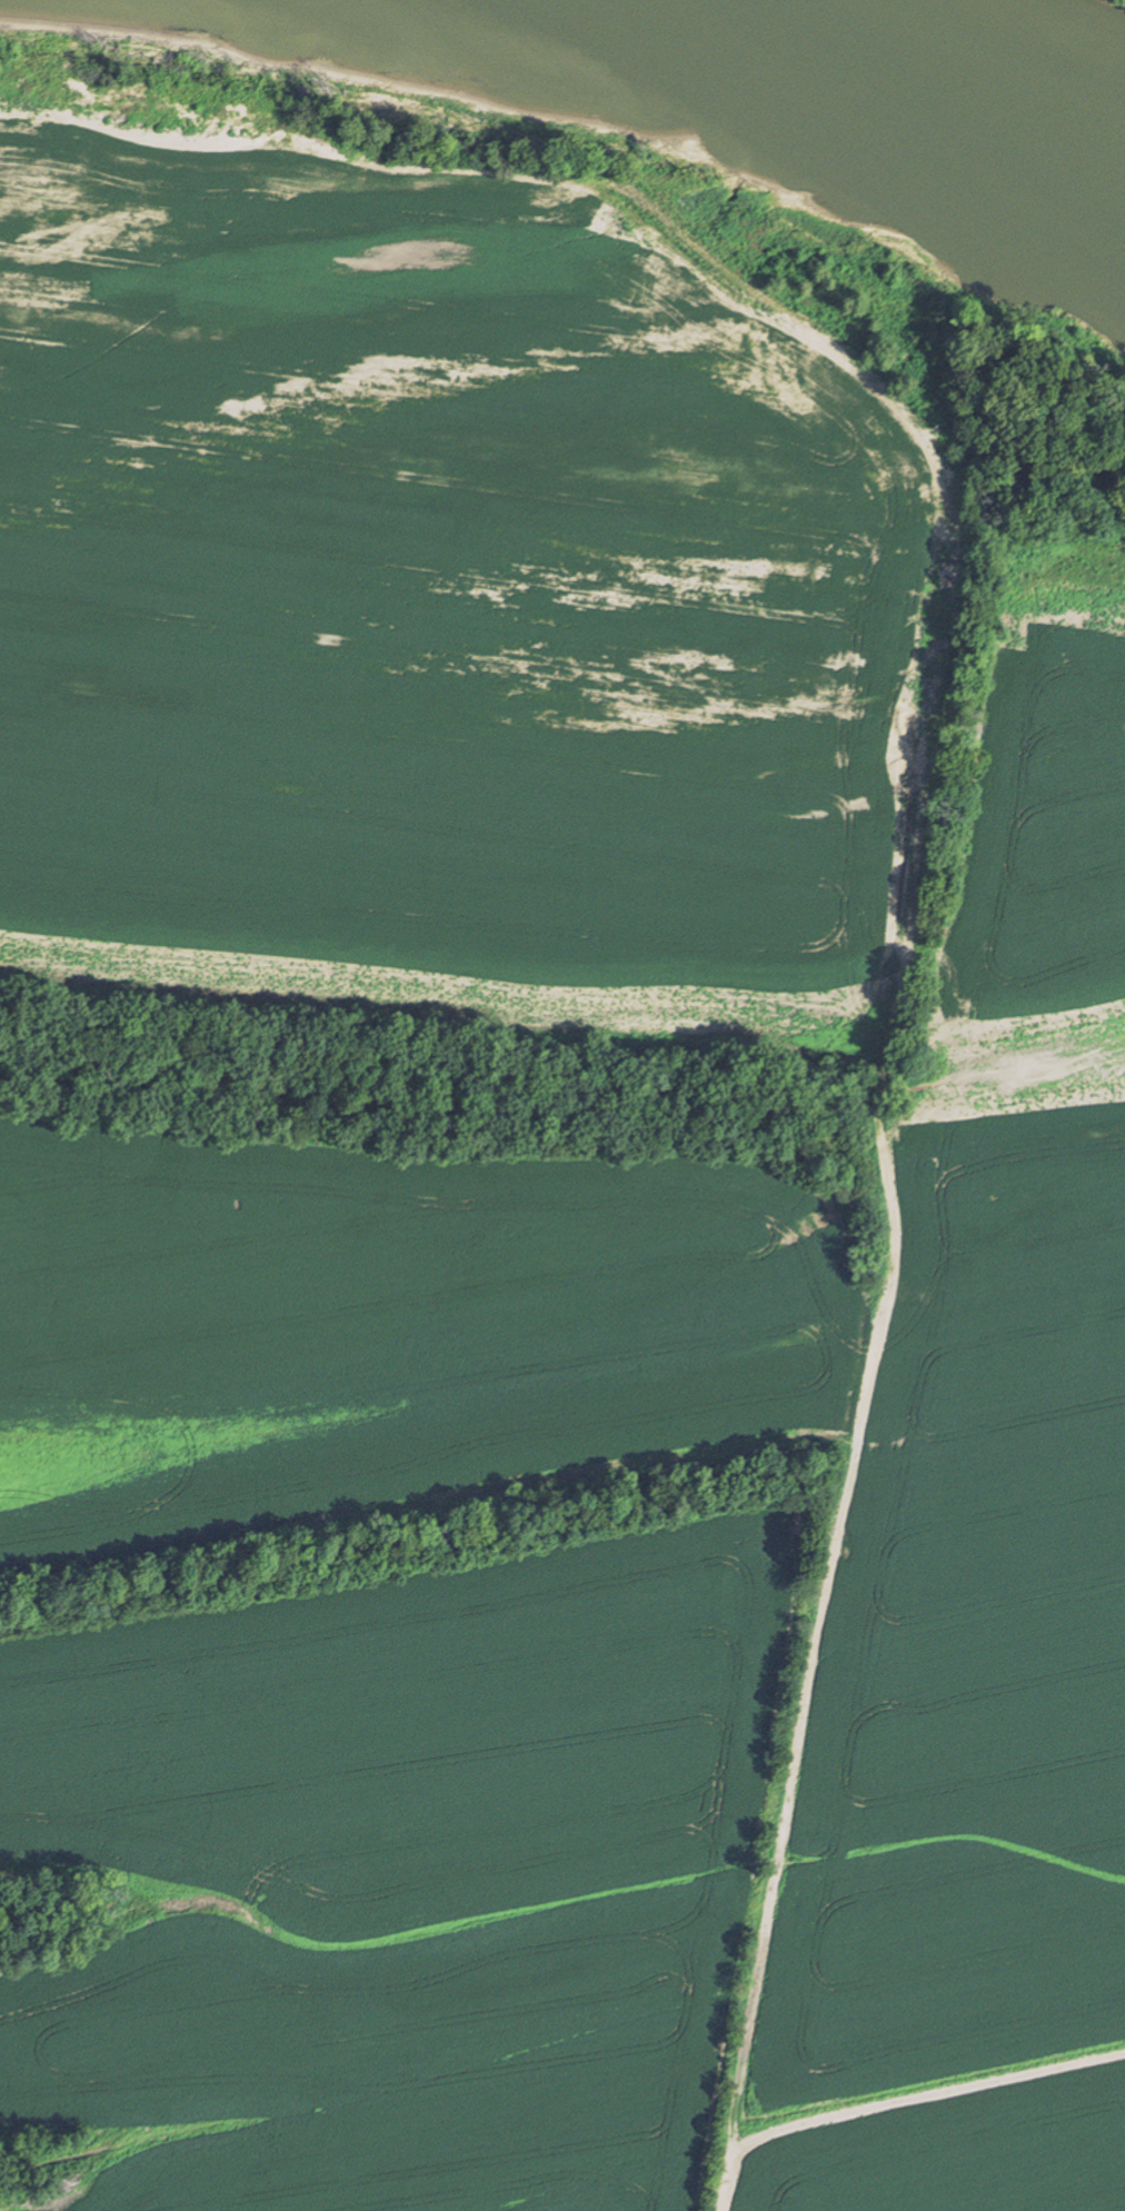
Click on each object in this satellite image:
road: (810, 1784)

